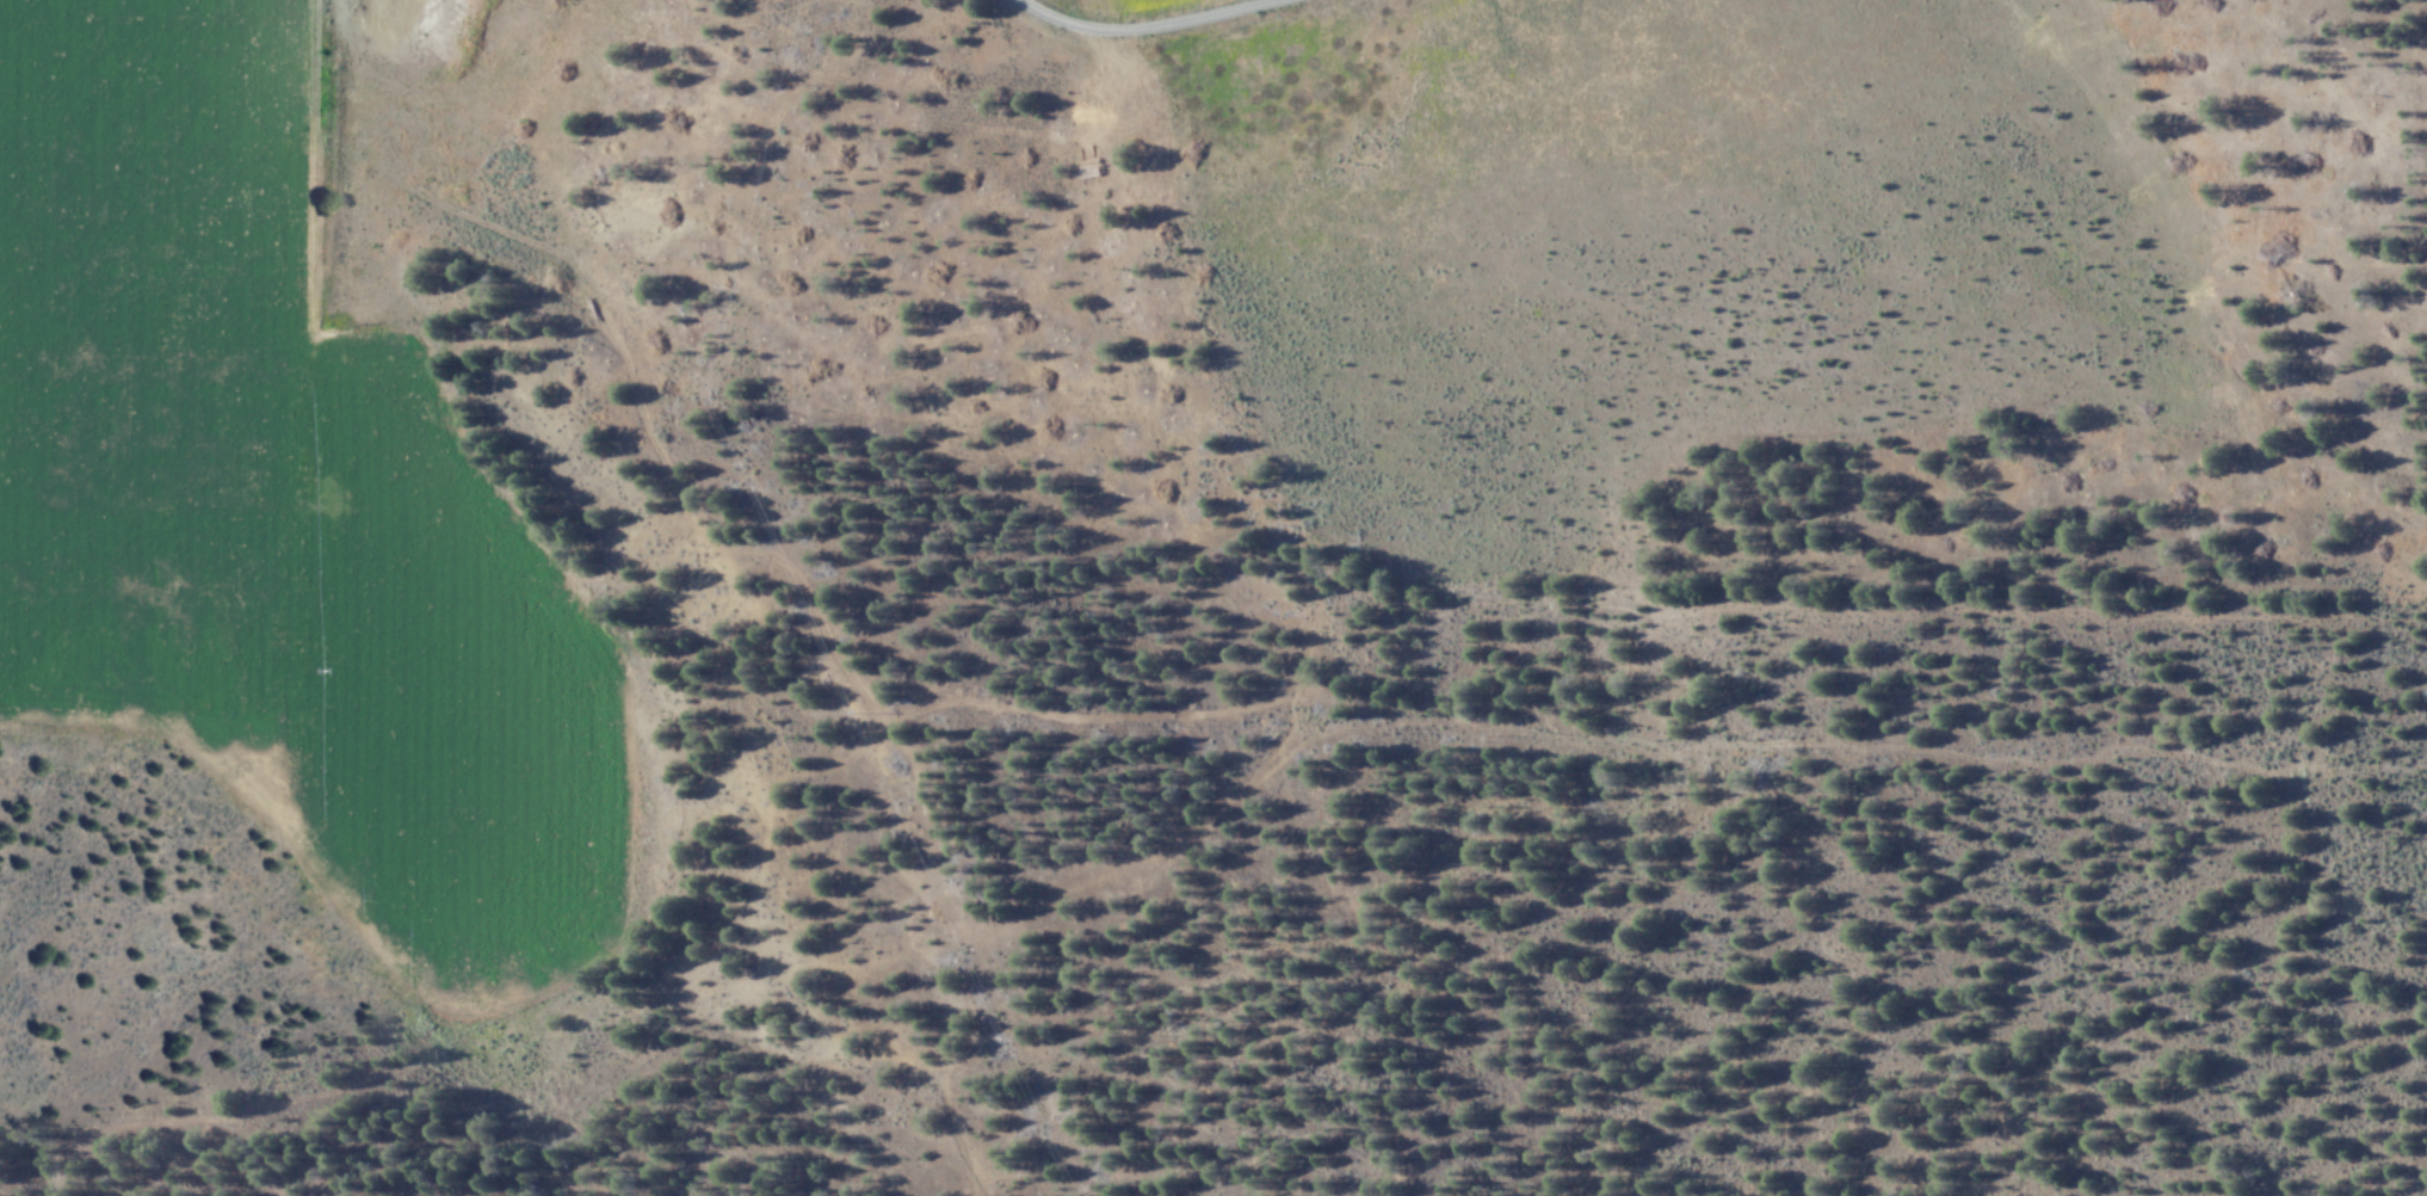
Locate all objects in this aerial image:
road: (1143, 20)

